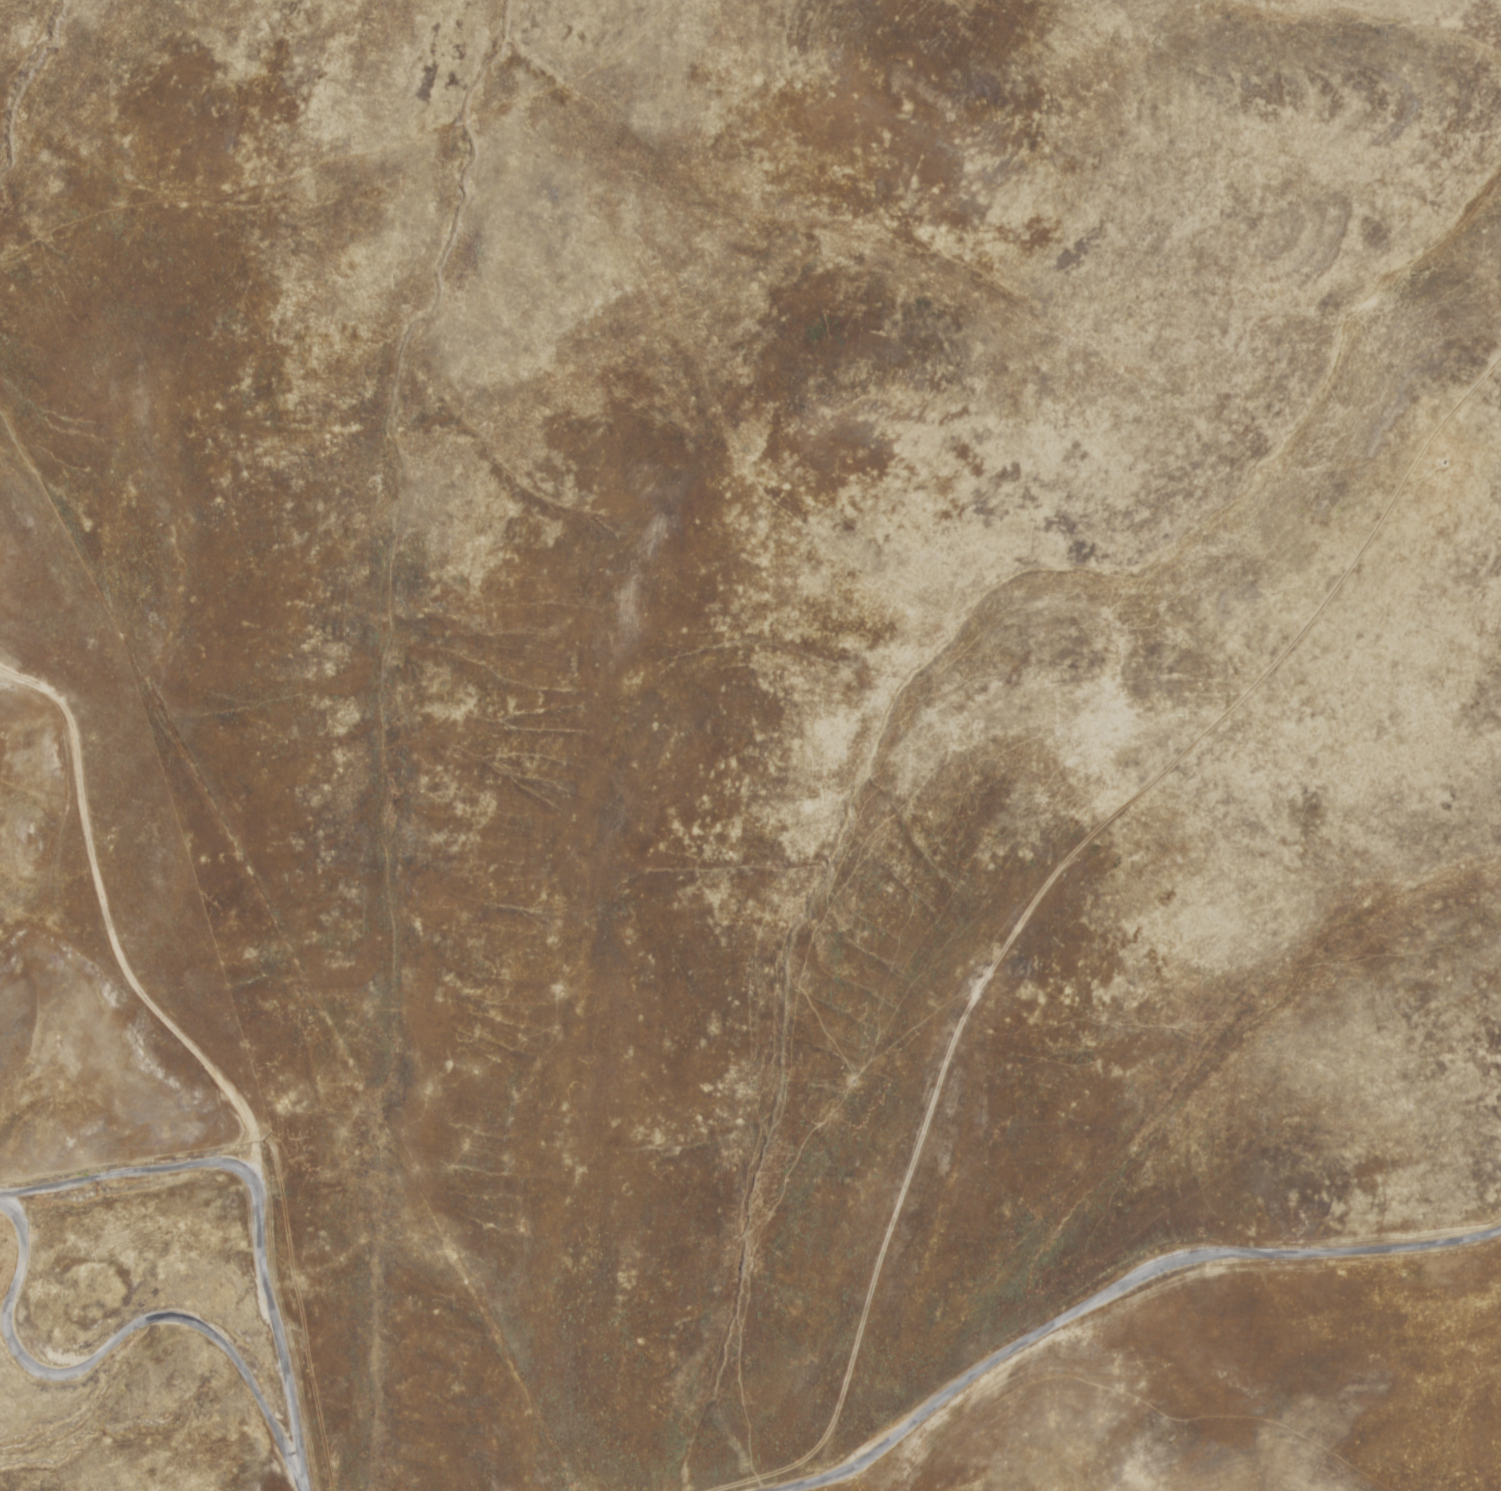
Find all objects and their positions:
road: (188, 1047)
road: (1106, 1289)
road: (119, 1341)

